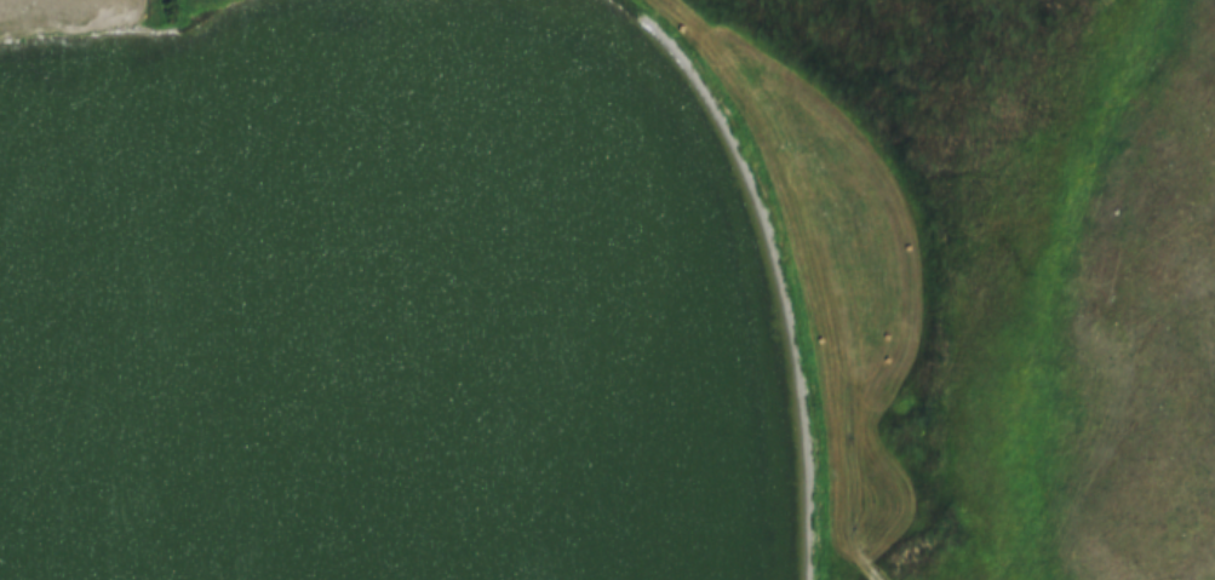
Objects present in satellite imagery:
road: (876, 573)

